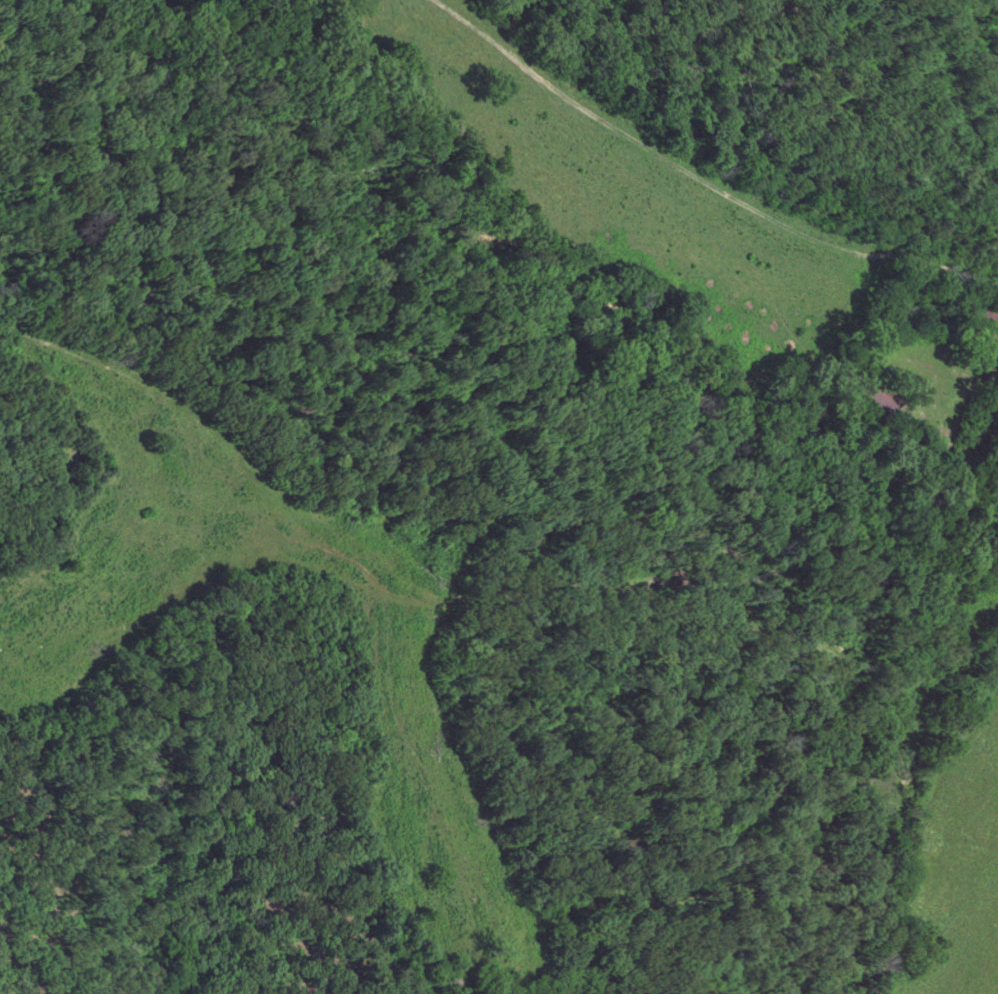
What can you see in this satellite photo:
building: (981, 306)
building: (878, 395)

